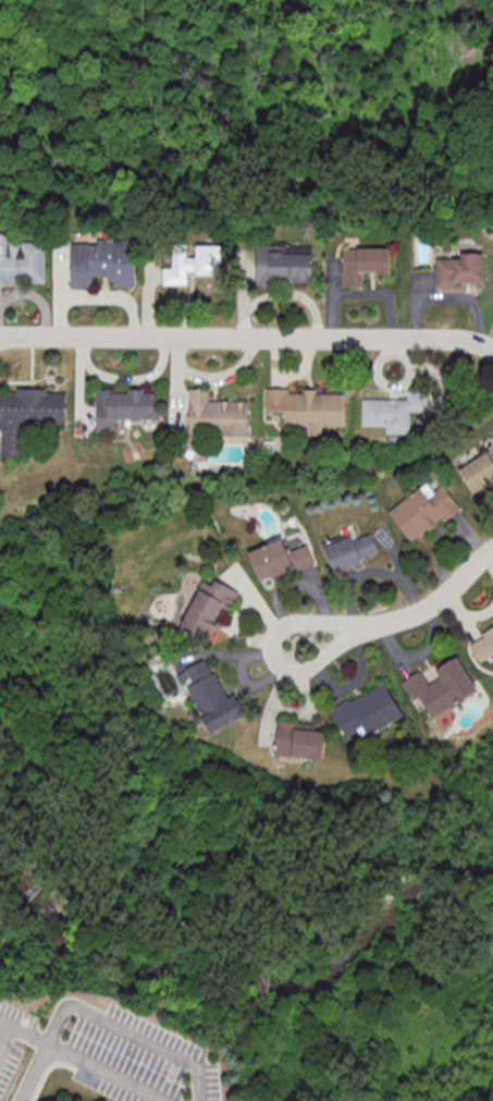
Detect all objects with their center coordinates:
road: (259, 166)
building: (21, 262)
building: (103, 262)
building: (194, 262)
building: (285, 264)
building: (363, 265)
building: (459, 271)
road: (247, 339)
building: (126, 406)
building: (310, 408)
building: (394, 412)
building: (27, 415)
building: (217, 416)
building: (479, 473)
building: (424, 512)
building: (352, 550)
building: (280, 560)
road: (432, 601)
building: (208, 607)
building: (483, 647)
road: (273, 653)
building: (443, 687)
building: (211, 697)
building: (368, 710)
building: (301, 739)
river: (243, 983)
road: (20, 1031)
road: (79, 1061)

